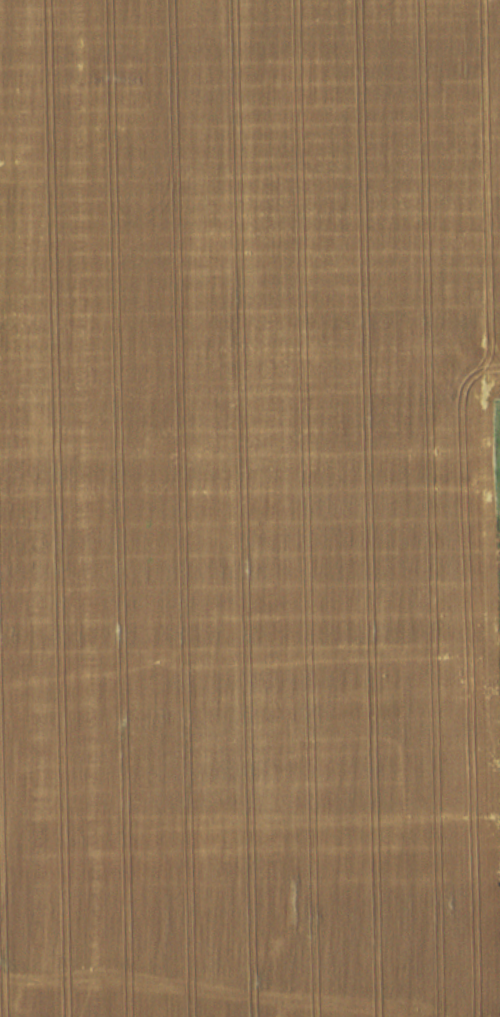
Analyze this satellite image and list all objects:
crop: (248, 508)

